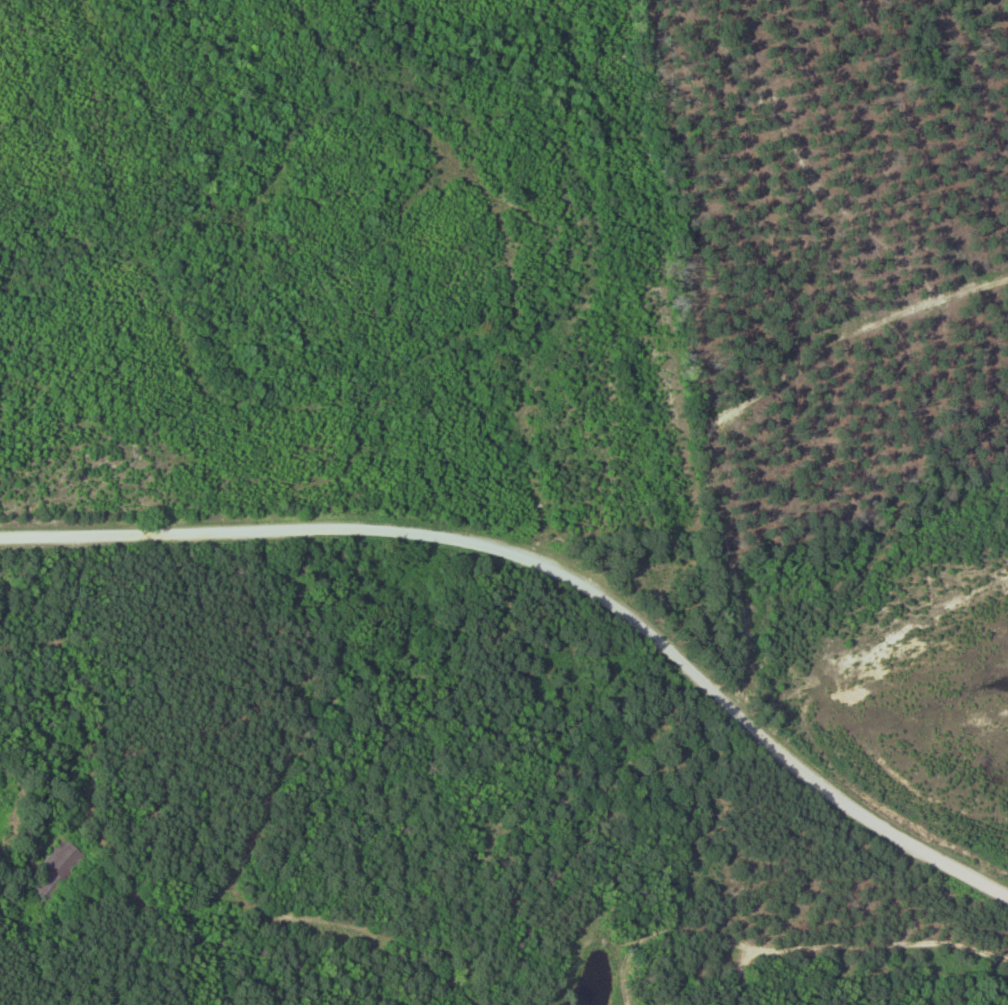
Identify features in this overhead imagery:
road: (554, 572)
building: (55, 877)
dam: (549, 994)

